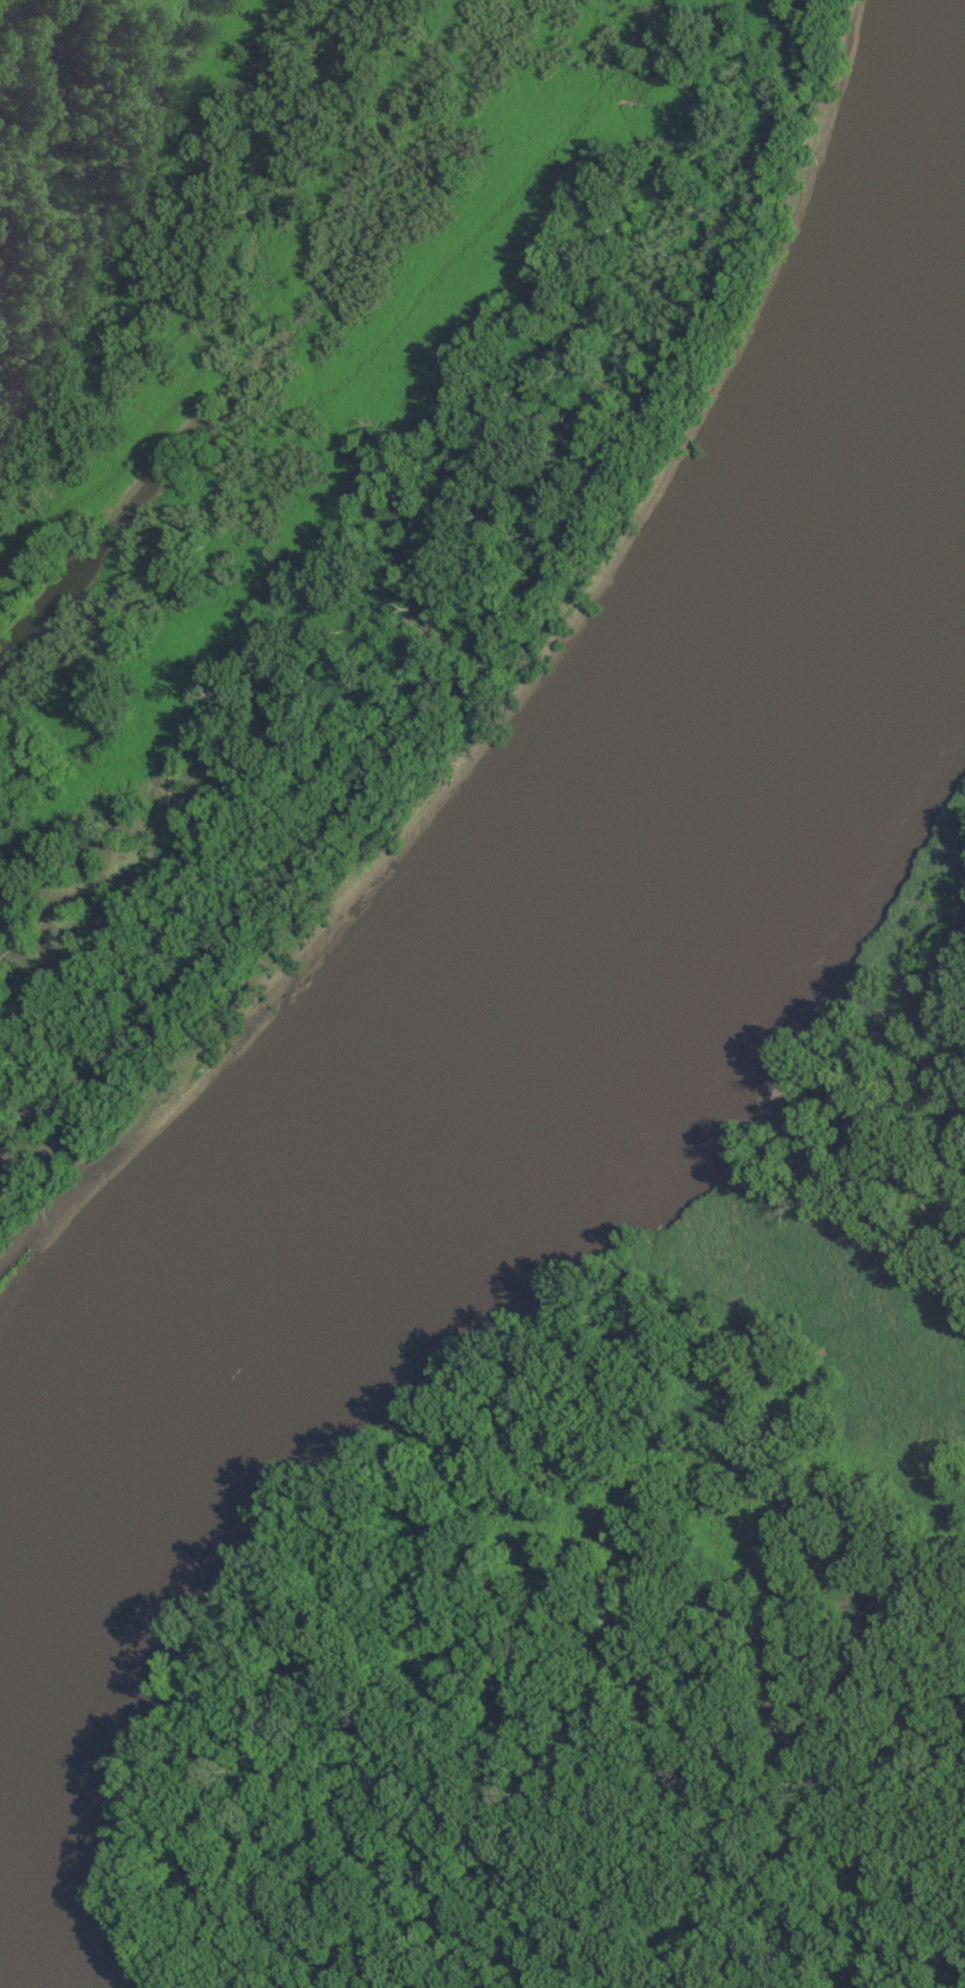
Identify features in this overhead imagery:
river: (549, 1063)
river: (11, 1885)

